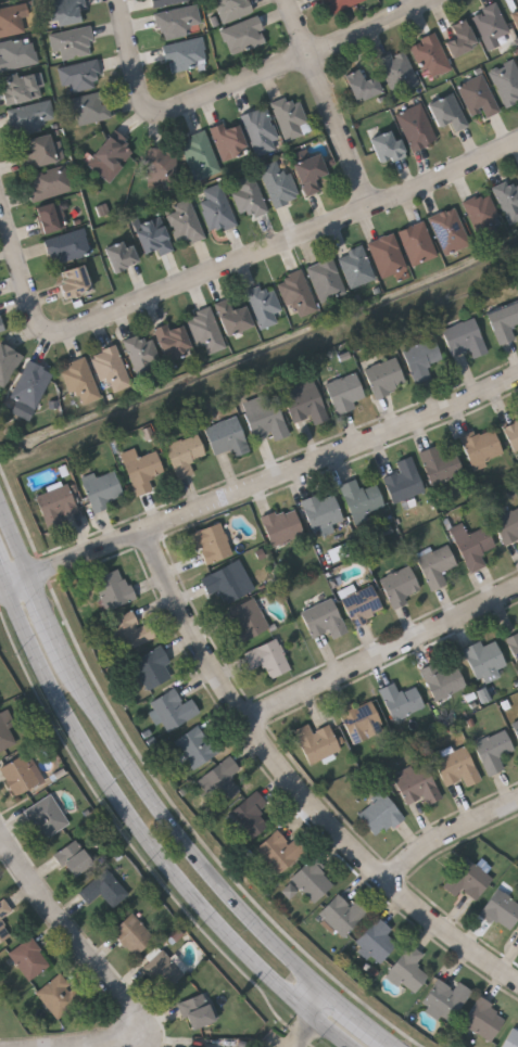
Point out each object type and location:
building: (165, 2)
building: (517, 2)
building: (339, 4)
building: (230, 10)
building: (65, 11)
building: (515, 18)
building: (11, 22)
building: (177, 22)
building: (489, 26)
building: (243, 37)
building: (459, 39)
building: (71, 43)
road: (132, 52)
building: (16, 54)
building: (184, 55)
building: (429, 56)
road: (289, 64)
building: (396, 72)
building: (78, 76)
building: (505, 81)
building: (361, 85)
building: (21, 87)
building: (477, 97)
road: (330, 104)
building: (88, 108)
building: (446, 113)
building: (289, 117)
building: (29, 118)
building: (415, 127)
building: (258, 130)
building: (227, 140)
building: (386, 146)
building: (40, 150)
building: (111, 150)
building: (199, 155)
building: (162, 167)
building: (308, 173)
building: (277, 182)
building: (47, 183)
building: (248, 197)
building: (507, 197)
building: (216, 209)
building: (481, 214)
building: (48, 217)
building: (184, 222)
building: (447, 230)
building: (152, 238)
road: (294, 240)
building: (416, 243)
building: (66, 246)
building: (119, 255)
building: (386, 255)
building: (354, 267)
road: (24, 277)
building: (324, 280)
building: (72, 281)
building: (295, 294)
building: (262, 304)
building: (231, 318)
building: (503, 319)
building: (0, 328)
building: (204, 332)
building: (465, 336)
building: (170, 341)
building: (140, 354)
building: (421, 358)
building: (7, 361)
building: (110, 370)
building: (384, 376)
building: (78, 381)
building: (28, 390)
building: (344, 392)
building: (302, 401)
building: (516, 412)
building: (262, 414)
building: (513, 434)
building: (225, 435)
building: (481, 446)
building: (182, 454)
building: (439, 463)
building: (139, 468)
building: (403, 480)
road: (274, 481)
building: (101, 487)
building: (361, 497)
building: (55, 501)
building: (321, 509)
building: (281, 524)
building: (507, 525)
road: (14, 540)
building: (209, 540)
building: (471, 544)
building: (434, 564)
road: (3, 578)
building: (225, 579)
road: (17, 582)
building: (399, 585)
building: (112, 587)
road: (3, 588)
building: (361, 604)
road: (48, 617)
building: (323, 617)
building: (245, 620)
building: (517, 621)
building: (130, 630)
building: (514, 643)
road: (383, 655)
building: (267, 656)
building: (483, 656)
building: (151, 666)
building: (441, 678)
building: (400, 699)
building: (172, 708)
building: (359, 716)
building: (515, 726)
building: (5, 728)
building: (315, 741)
building: (197, 745)
building: (493, 750)
building: (456, 766)
building: (20, 774)
building: (222, 779)
building: (416, 782)
road: (299, 783)
building: (249, 814)
building: (379, 814)
building: (46, 815)
road: (448, 831)
road: (178, 837)
road: (148, 840)
building: (279, 850)
building: (74, 857)
building: (312, 879)
building: (466, 879)
building: (104, 888)
building: (501, 909)
building: (341, 914)
road: (63, 921)
building: (3, 924)
building: (517, 931)
building: (132, 933)
building: (374, 940)
building: (29, 957)
building: (163, 969)
building: (406, 969)
building: (59, 994)
road: (314, 999)
building: (443, 999)
building: (197, 1009)
building: (483, 1018)
road: (357, 1019)
road: (305, 1031)
building: (510, 1038)
road: (110, 1040)
building: (194, 1045)

